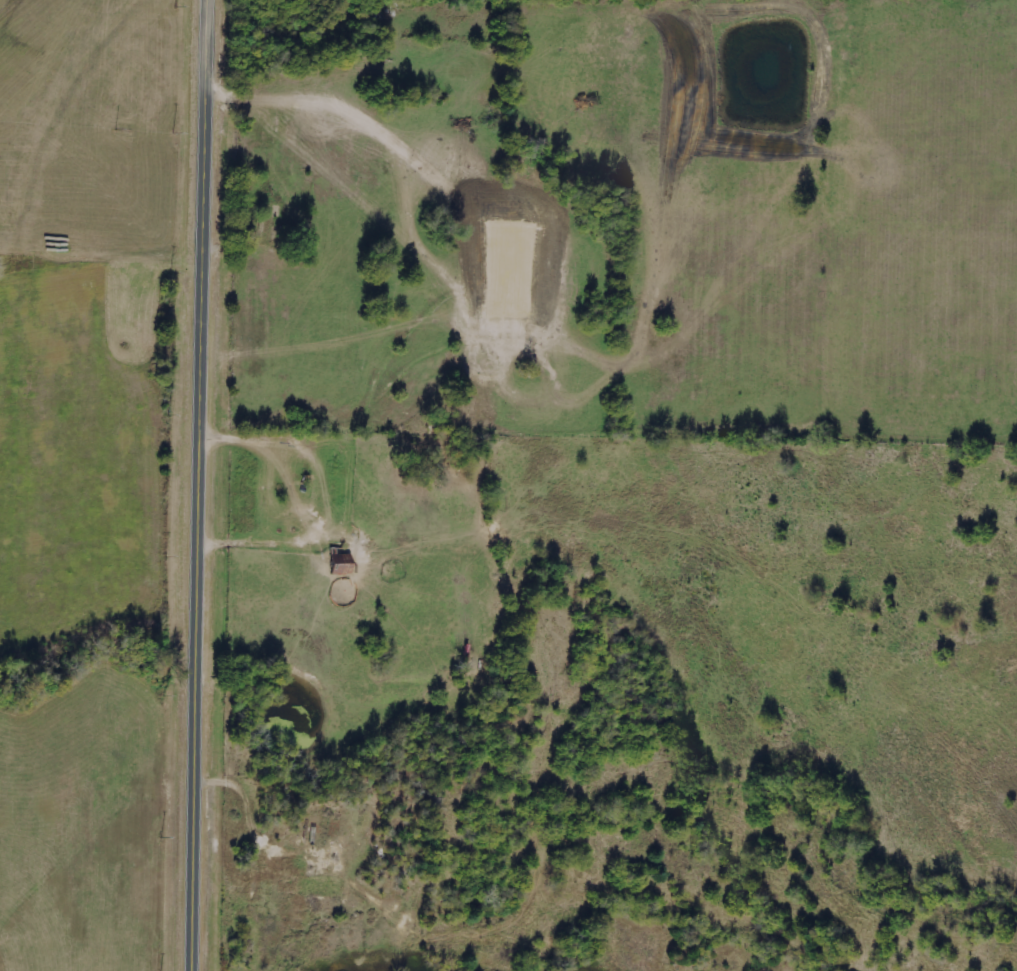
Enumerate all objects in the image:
road: (204, 485)
building: (339, 565)
road: (319, 843)

